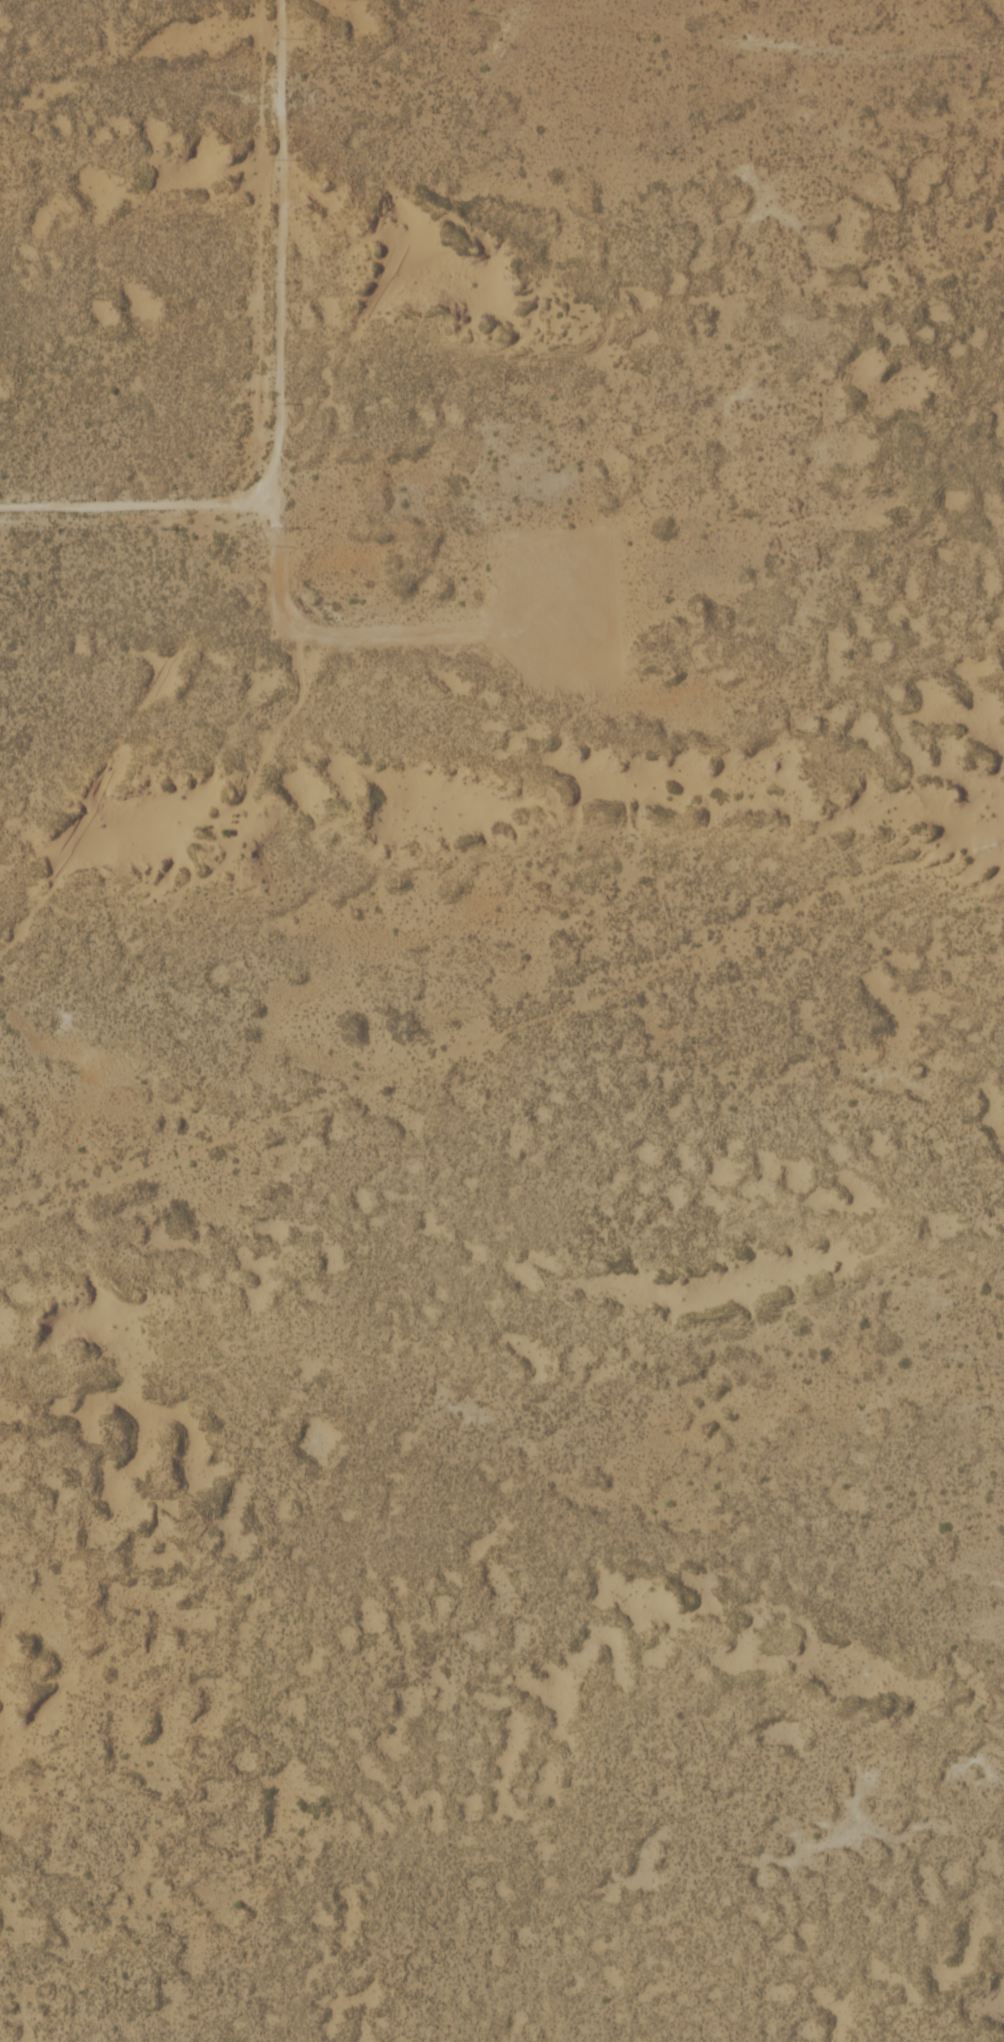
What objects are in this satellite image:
road: (283, 469)
road: (144, 508)

